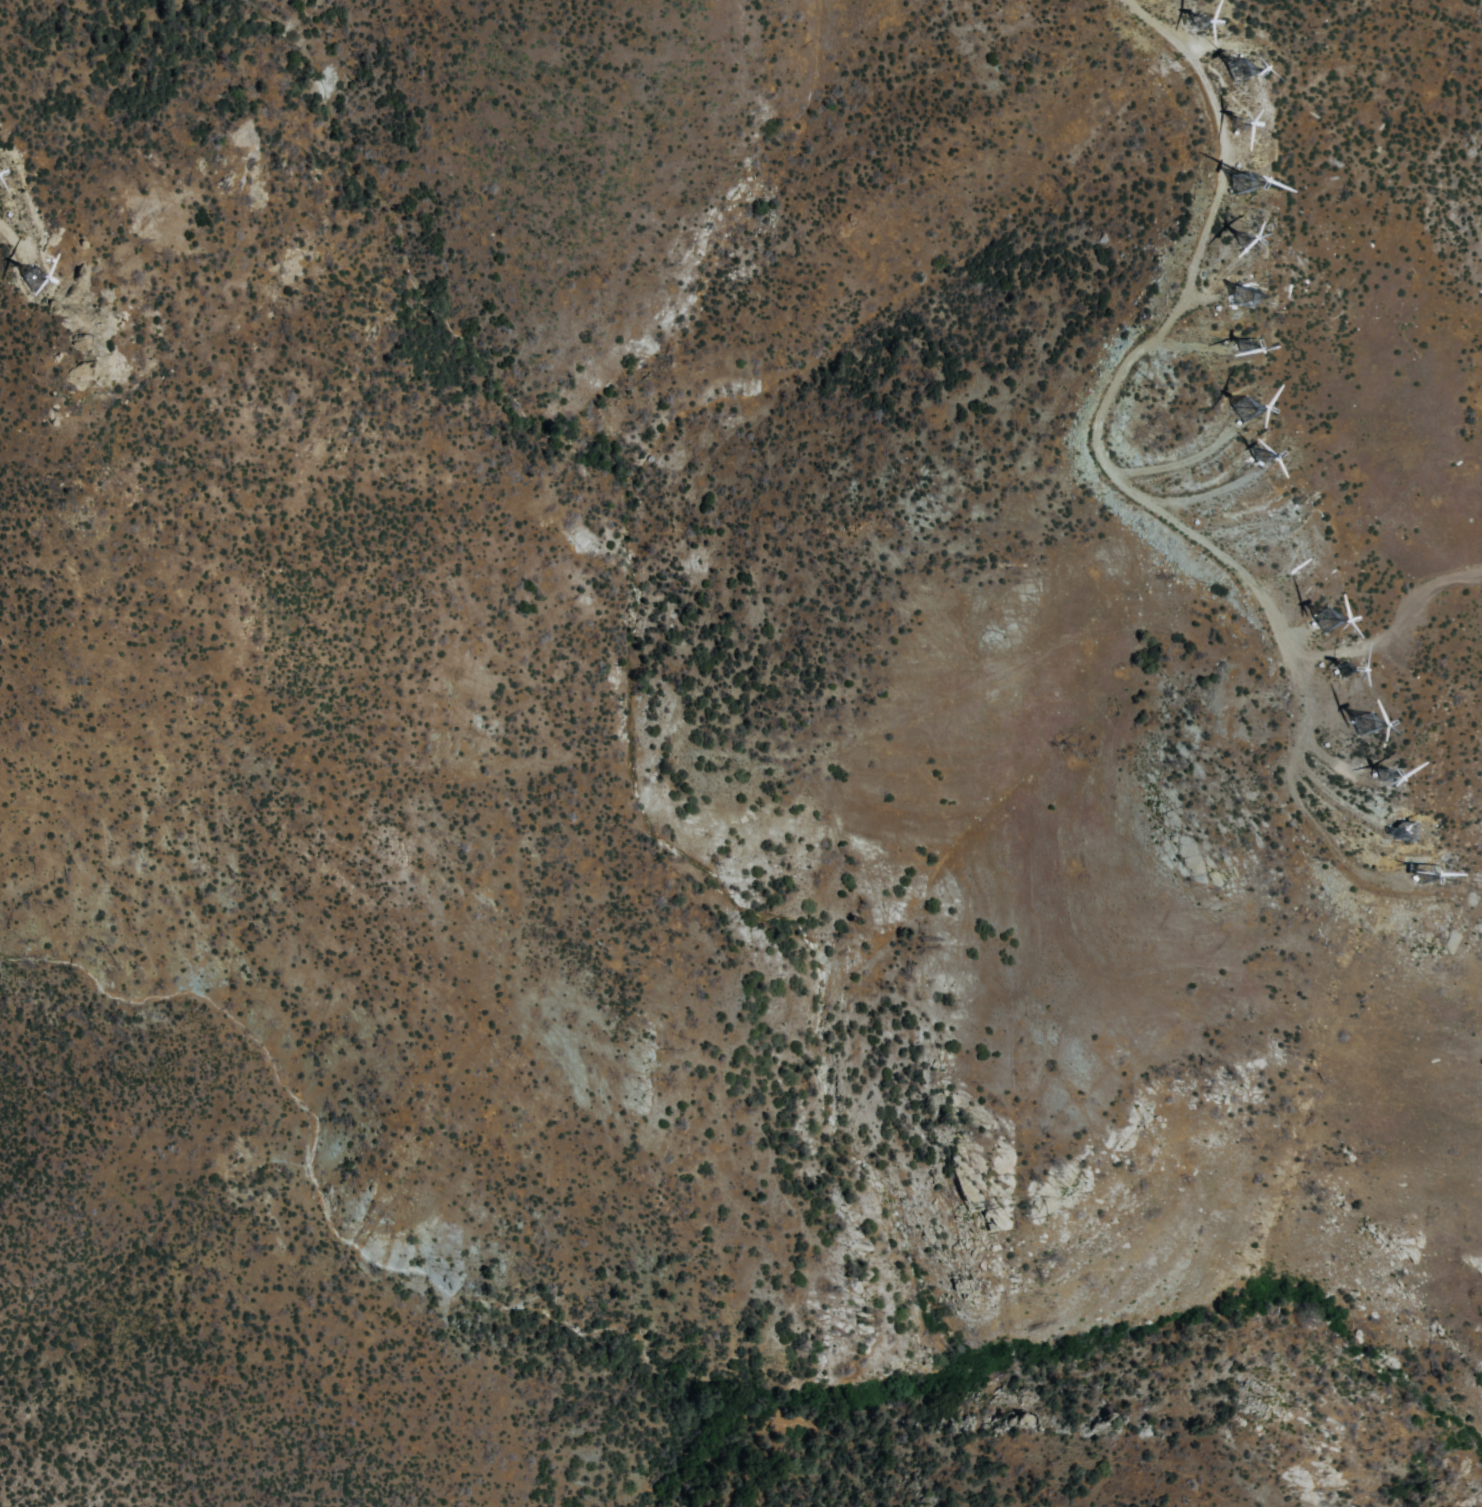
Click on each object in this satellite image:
wind turbine: (1192, 19)
wind turbine: (1228, 71)
wind turbine: (1244, 121)
wind turbine: (1232, 185)
wind turbine: (1236, 237)
wind turbine: (32, 280)
wind turbine: (1240, 299)
wind turbine: (1239, 346)
wind turbine: (1239, 406)
wind turbine: (1260, 460)
road: (1111, 476)
road: (1392, 620)
wind turbine: (1328, 627)
wind turbine: (1342, 670)
wind turbine: (1370, 726)
wind turbine: (1387, 776)
wind turbine: (1399, 832)
wind turbine: (1422, 883)

